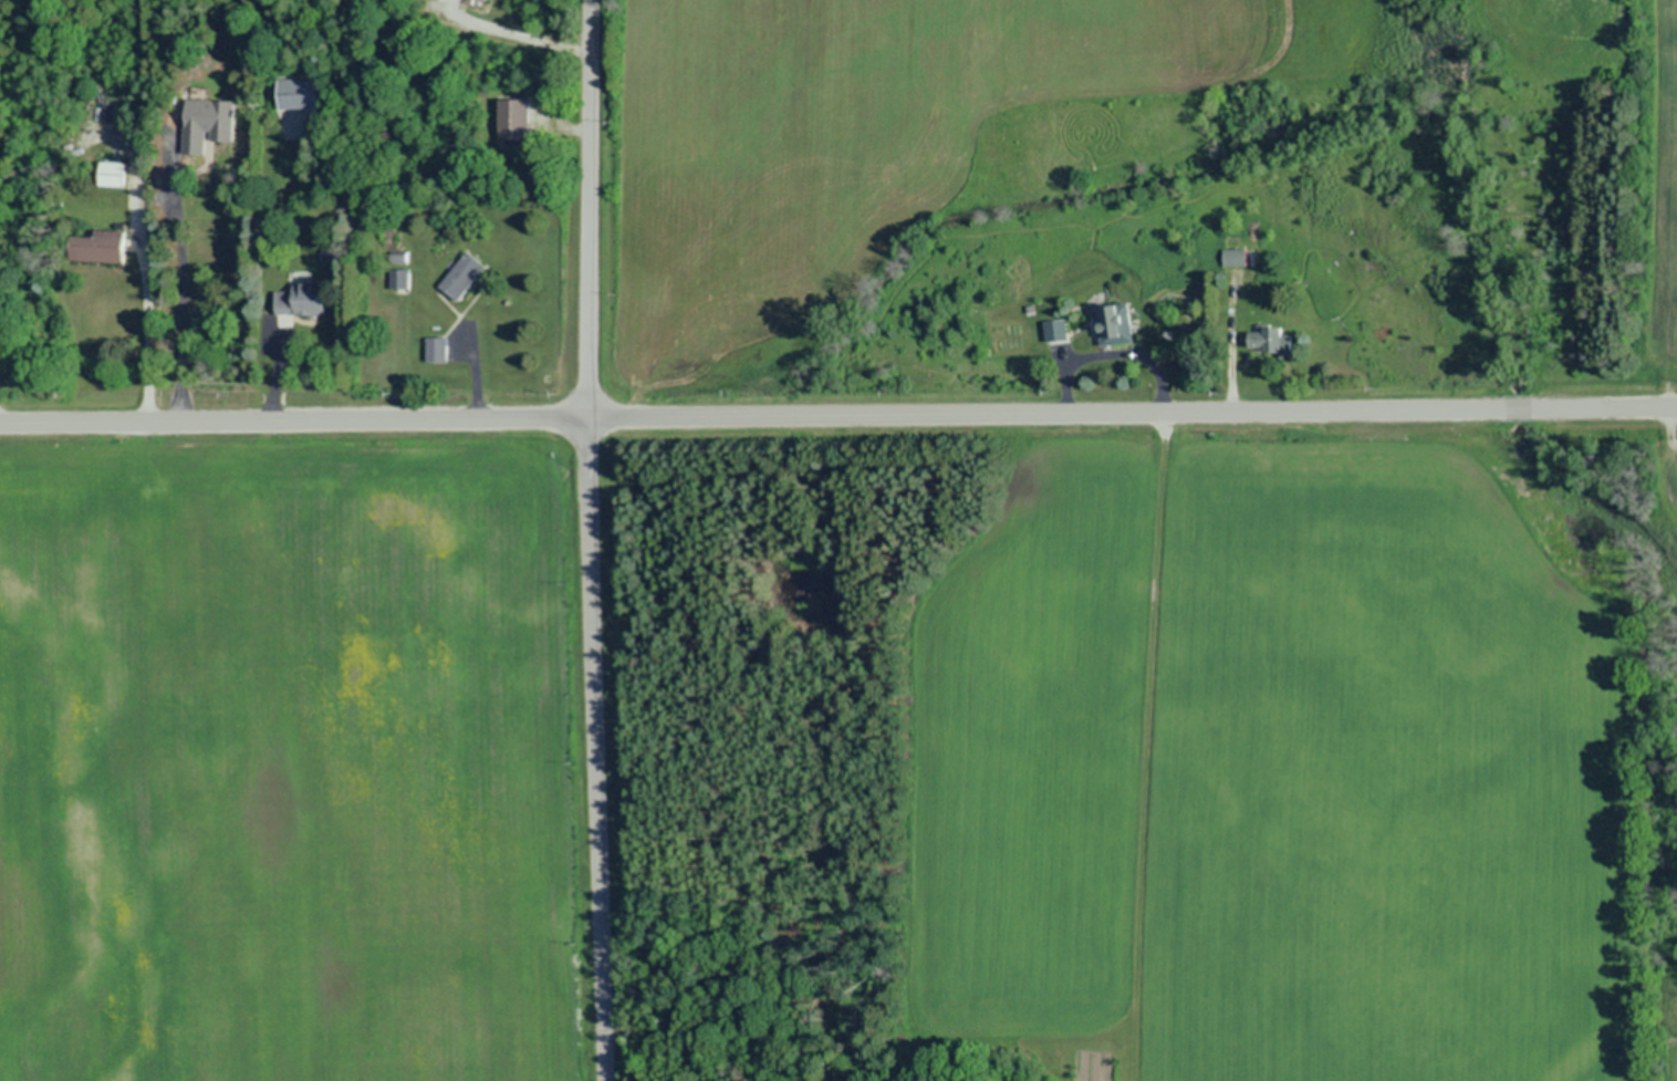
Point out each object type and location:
building: (491, 0)
road: (514, 34)
building: (300, 93)
building: (515, 119)
building: (211, 124)
building: (115, 174)
building: (103, 248)
building: (1237, 258)
road: (181, 272)
building: (463, 277)
building: (400, 279)
building: (305, 300)
building: (1116, 325)
building: (1058, 331)
building: (1270, 341)
building: (437, 350)
road: (838, 416)
road: (592, 540)
quarry: (293, 757)

